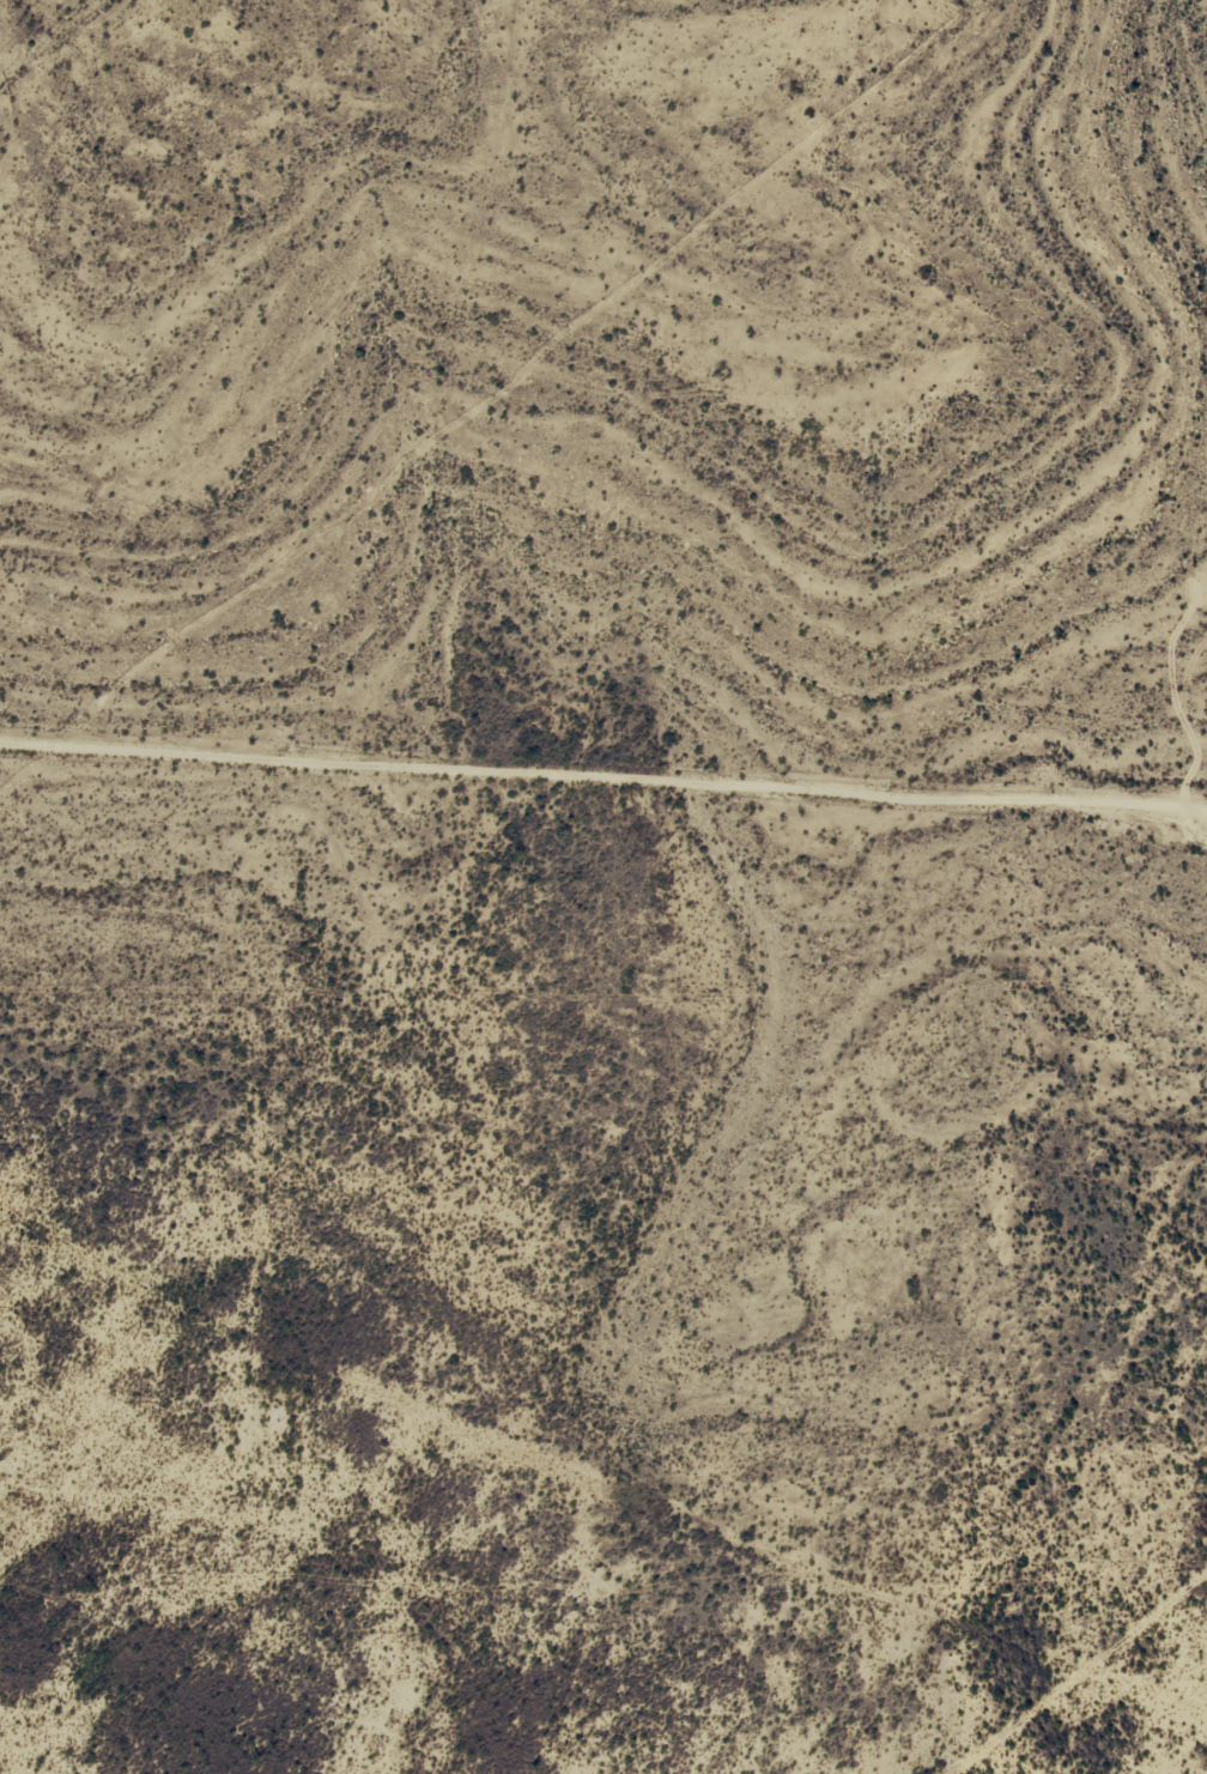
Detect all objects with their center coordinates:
road: (1105, 1689)

